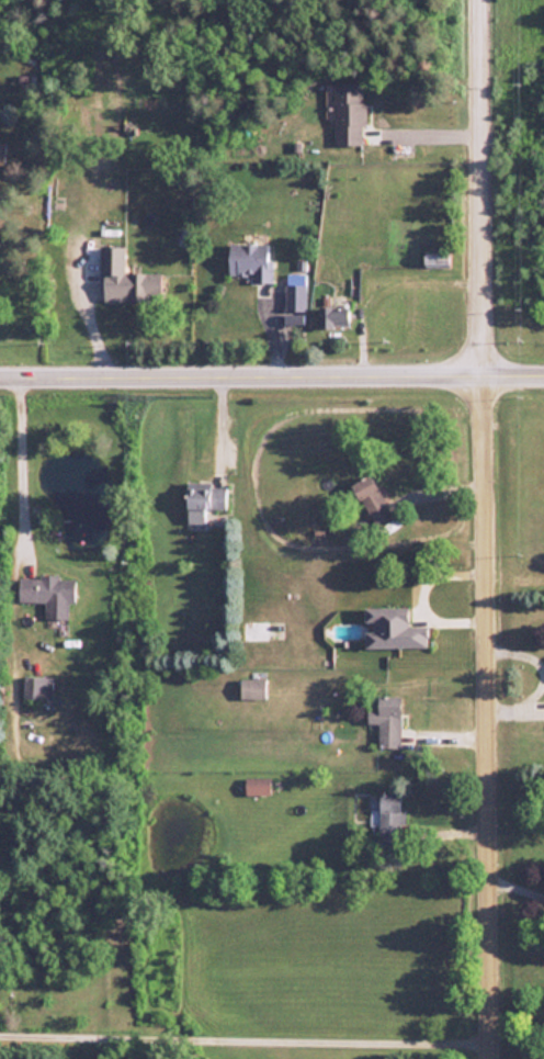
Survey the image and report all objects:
building: (349, 113)
road: (422, 136)
building: (5, 155)
building: (438, 260)
building: (254, 262)
building: (128, 280)
building: (295, 297)
road: (86, 312)
building: (335, 316)
building: (293, 318)
road: (272, 372)
road: (215, 426)
road: (23, 465)
building: (207, 502)
building: (373, 502)
road: (483, 529)
building: (55, 596)
road: (416, 597)
building: (393, 630)
building: (261, 633)
building: (41, 690)
building: (257, 690)
building: (388, 721)
building: (257, 786)
building: (390, 815)
road: (517, 889)
road: (245, 1040)

